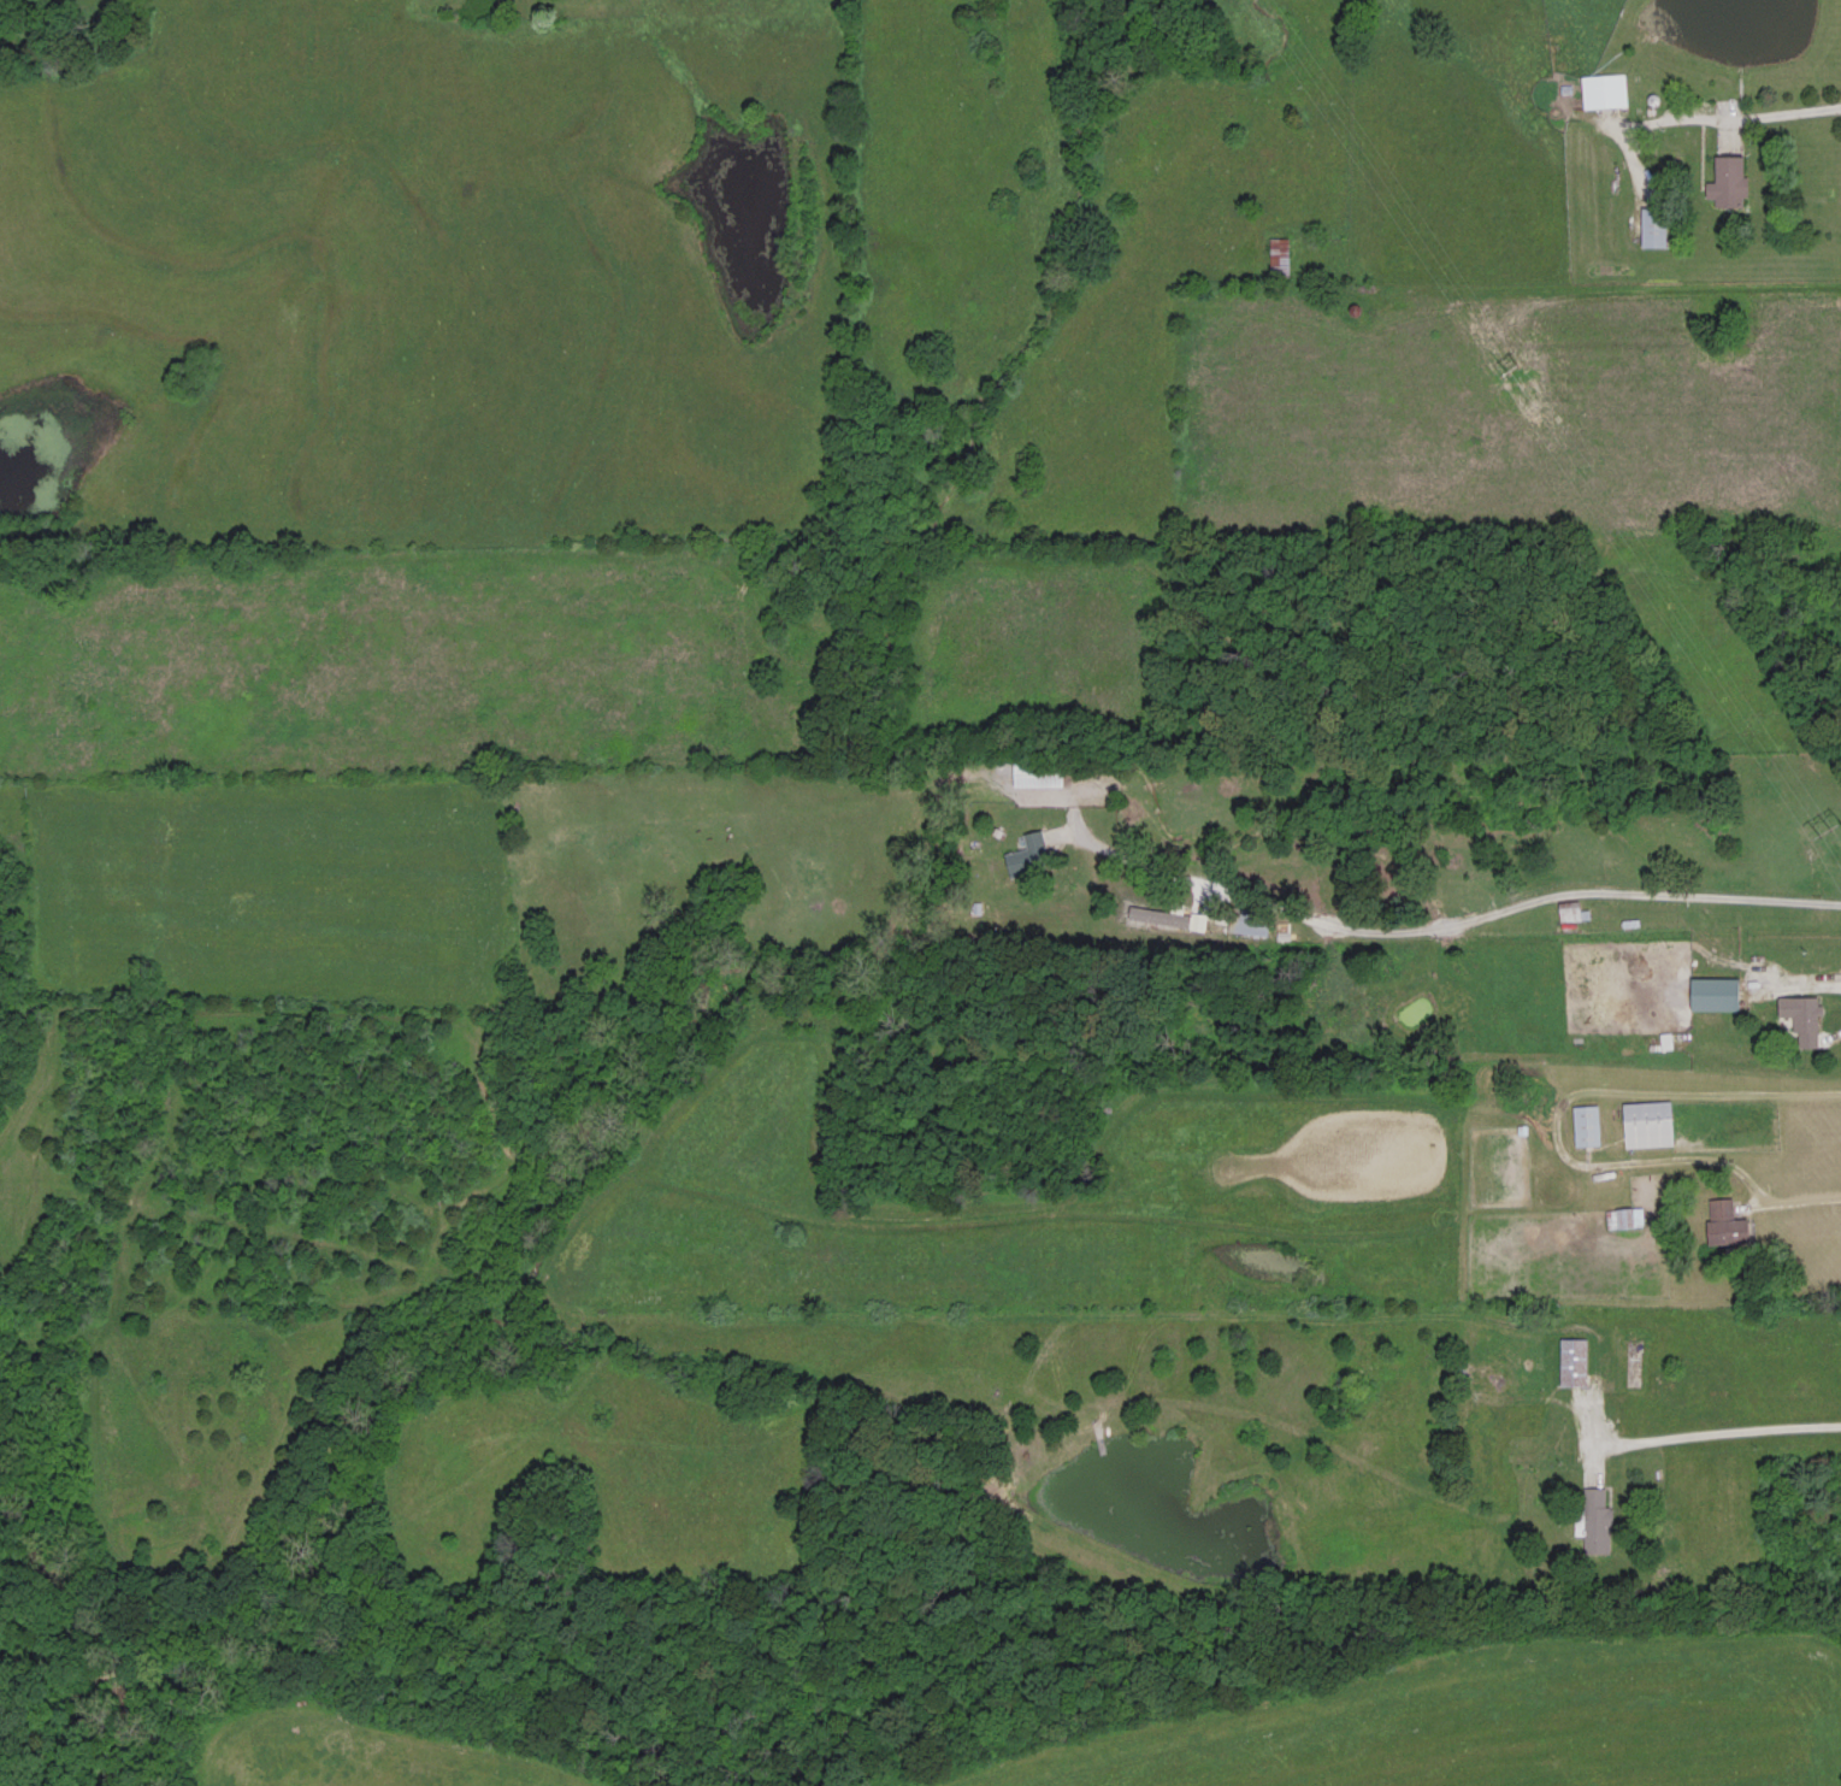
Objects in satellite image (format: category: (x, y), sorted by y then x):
building: (1604, 89)
road: (1768, 113)
building: (1730, 179)
building: (1653, 225)
building: (1279, 254)
building: (1038, 771)
building: (1029, 853)
building: (1570, 908)
building: (1247, 919)
road: (1444, 924)
road: (1799, 977)
building: (1717, 990)
building: (1802, 1016)
building: (1650, 1121)
building: (1587, 1122)
road: (1557, 1134)
building: (1625, 1215)
building: (1728, 1221)
road: (1613, 1328)
building: (1575, 1360)
road: (1784, 1430)
building: (1598, 1523)
park: (25, 1668)

